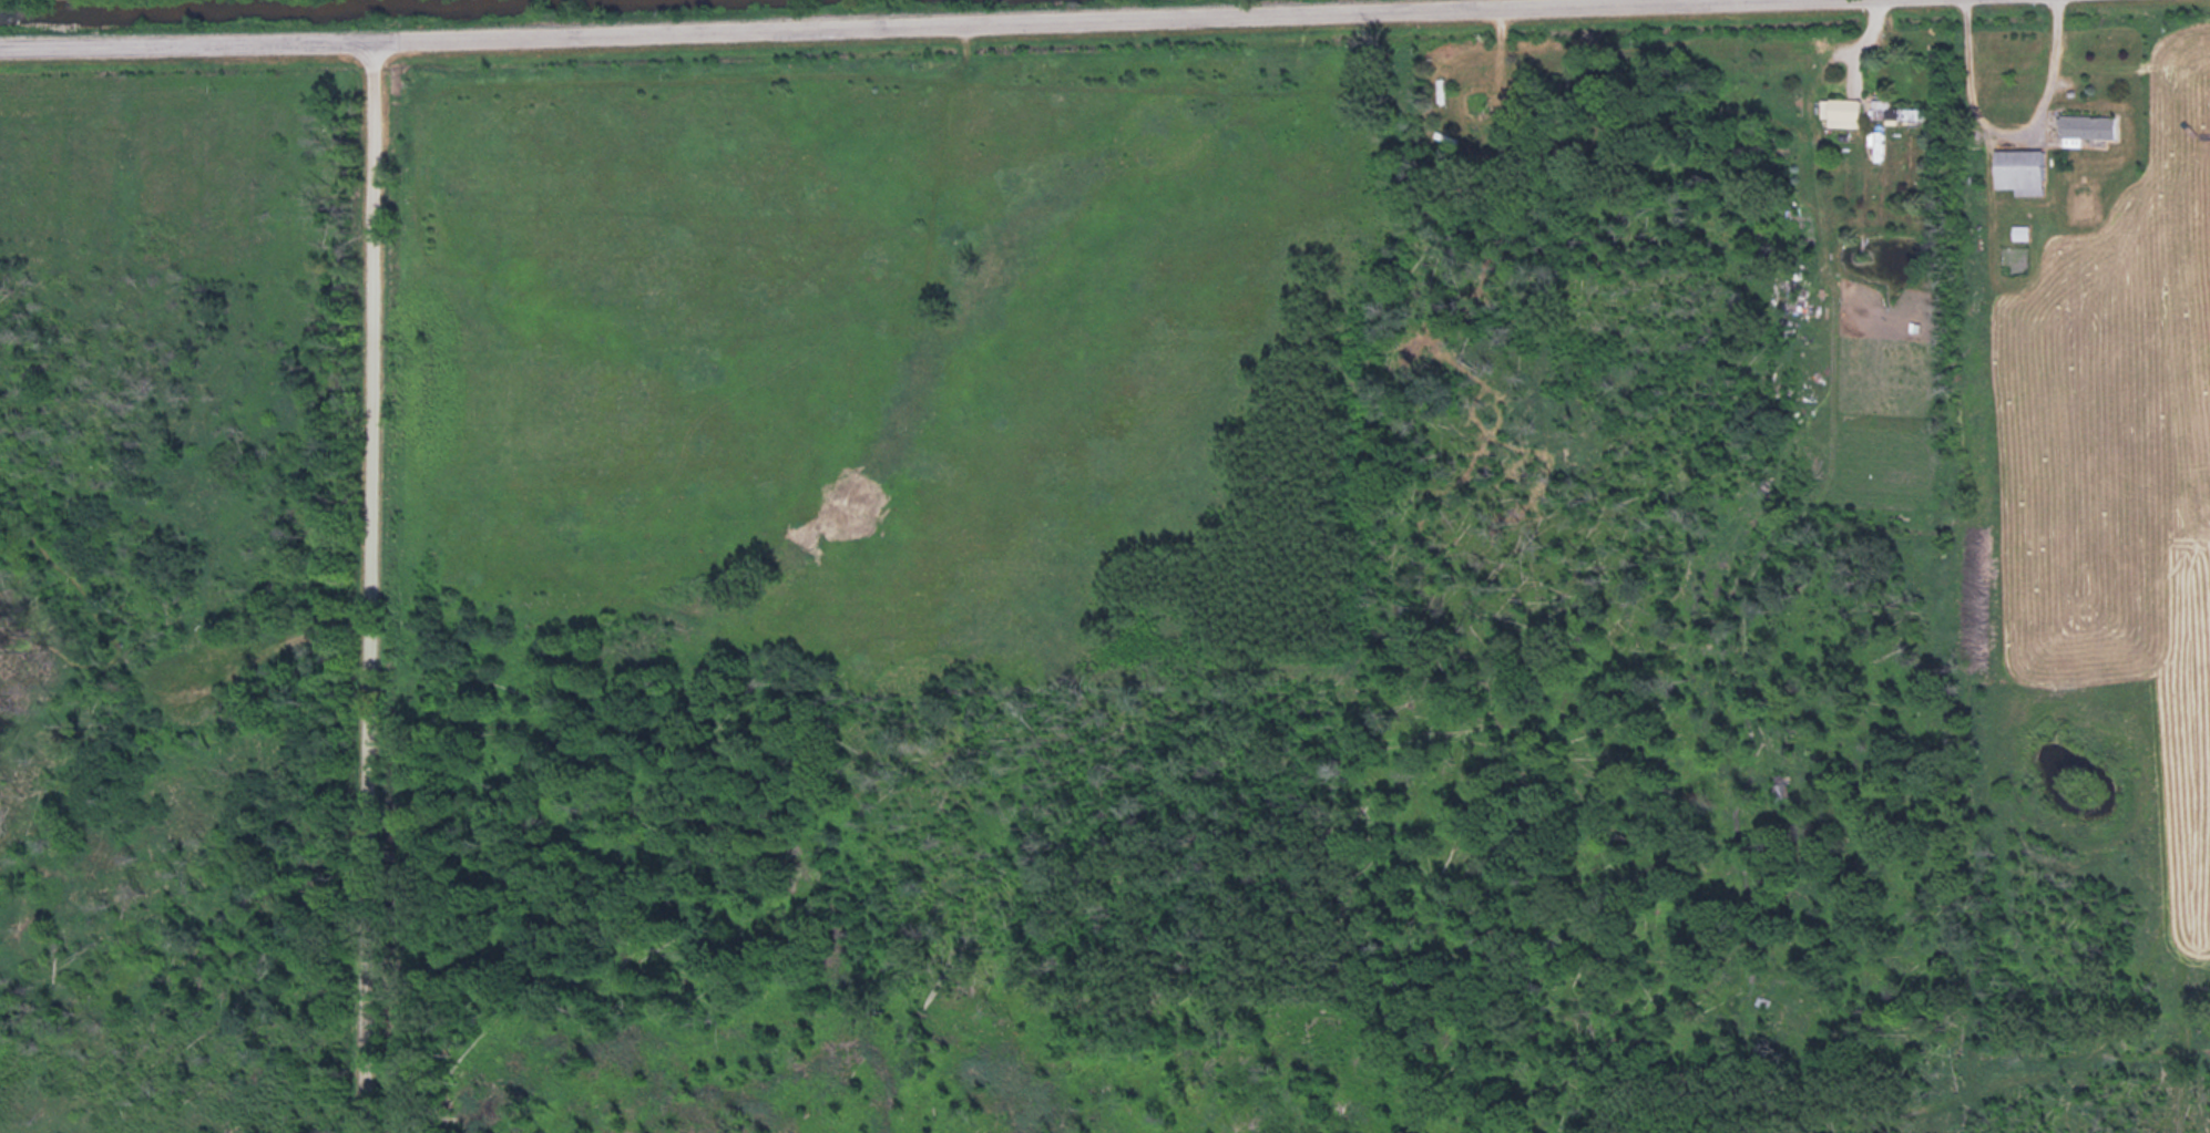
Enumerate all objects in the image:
river: (203, 3)
road: (906, 28)
building: (1471, 100)
building: (1894, 110)
building: (1843, 111)
building: (2088, 124)
road: (1998, 128)
building: (2018, 168)
road: (364, 588)

